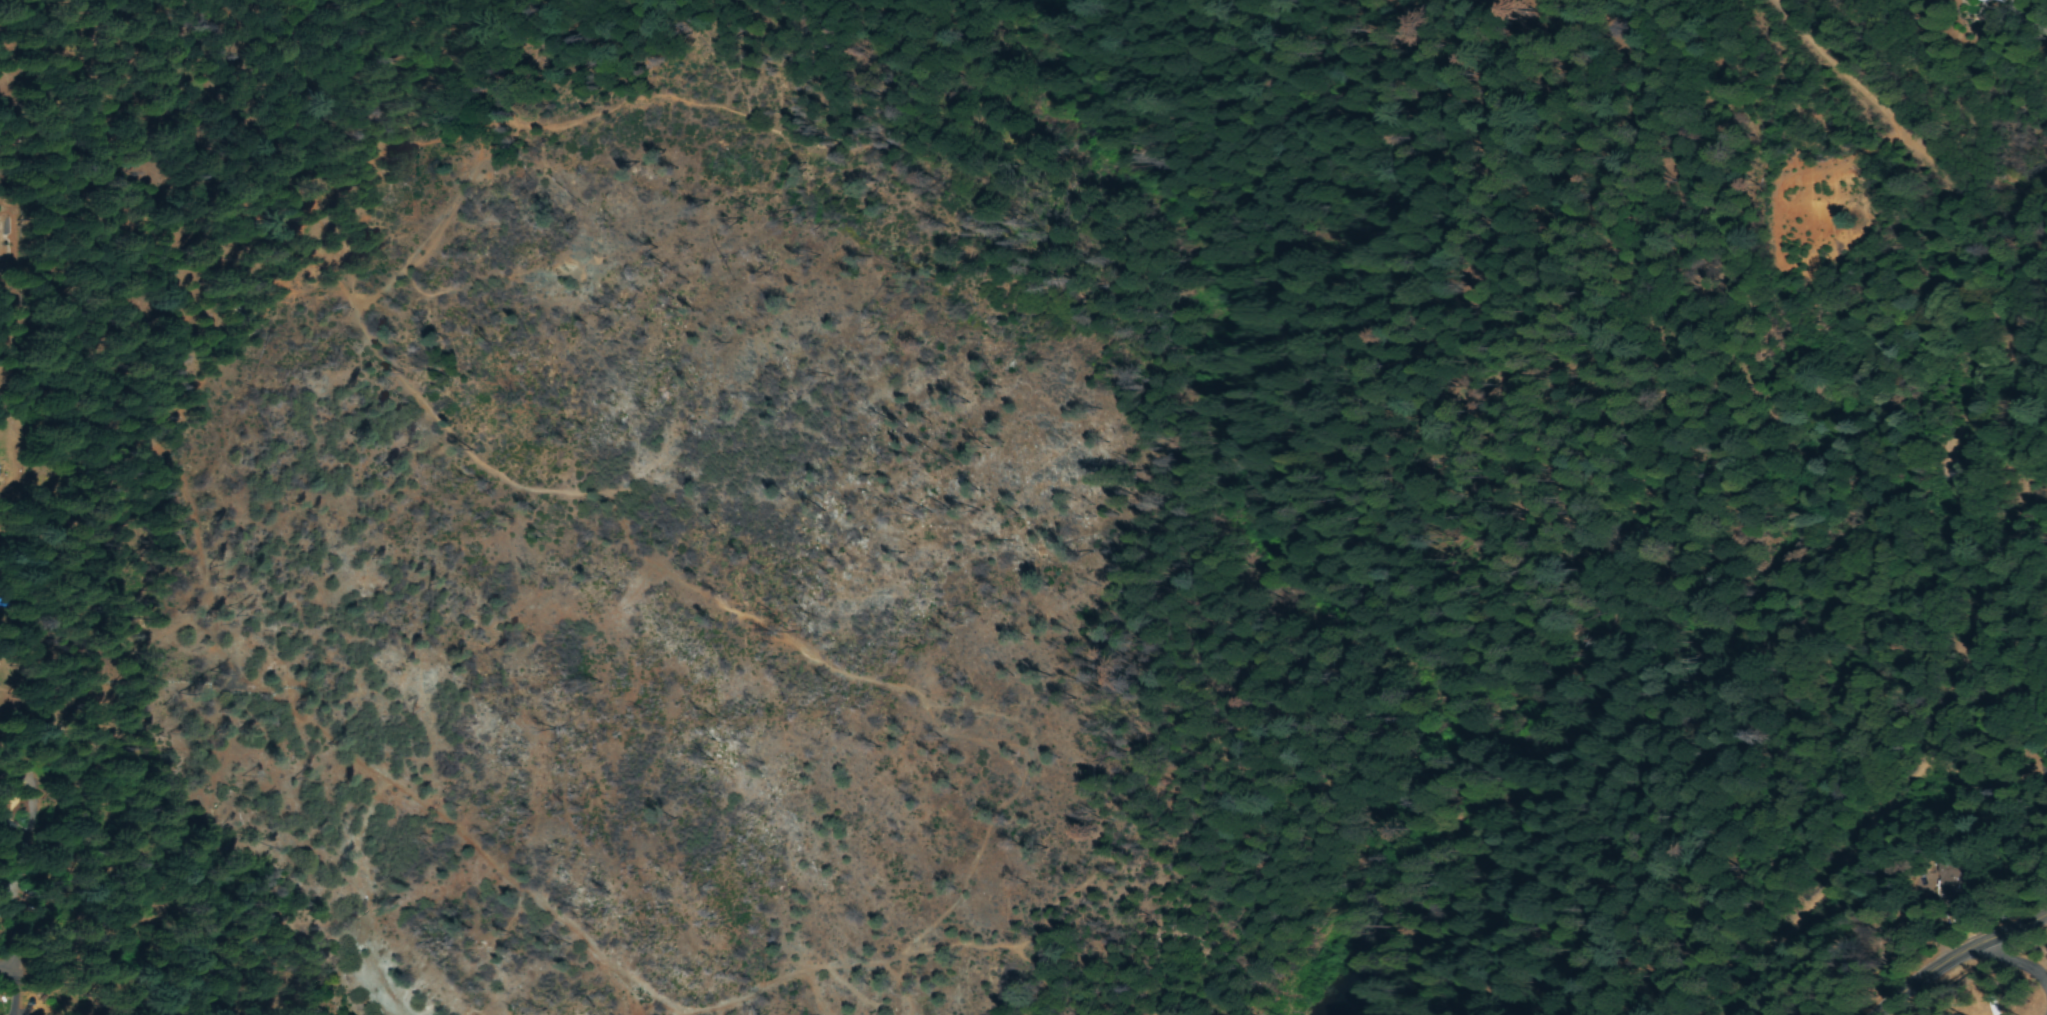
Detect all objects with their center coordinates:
building: (2023, 0)
building: (1999, 1)
road: (403, 55)
road: (2037, 102)
road: (406, 233)
road: (421, 454)
road: (2008, 501)
road: (426, 727)
road: (2030, 934)
road: (426, 935)
road: (1956, 959)

